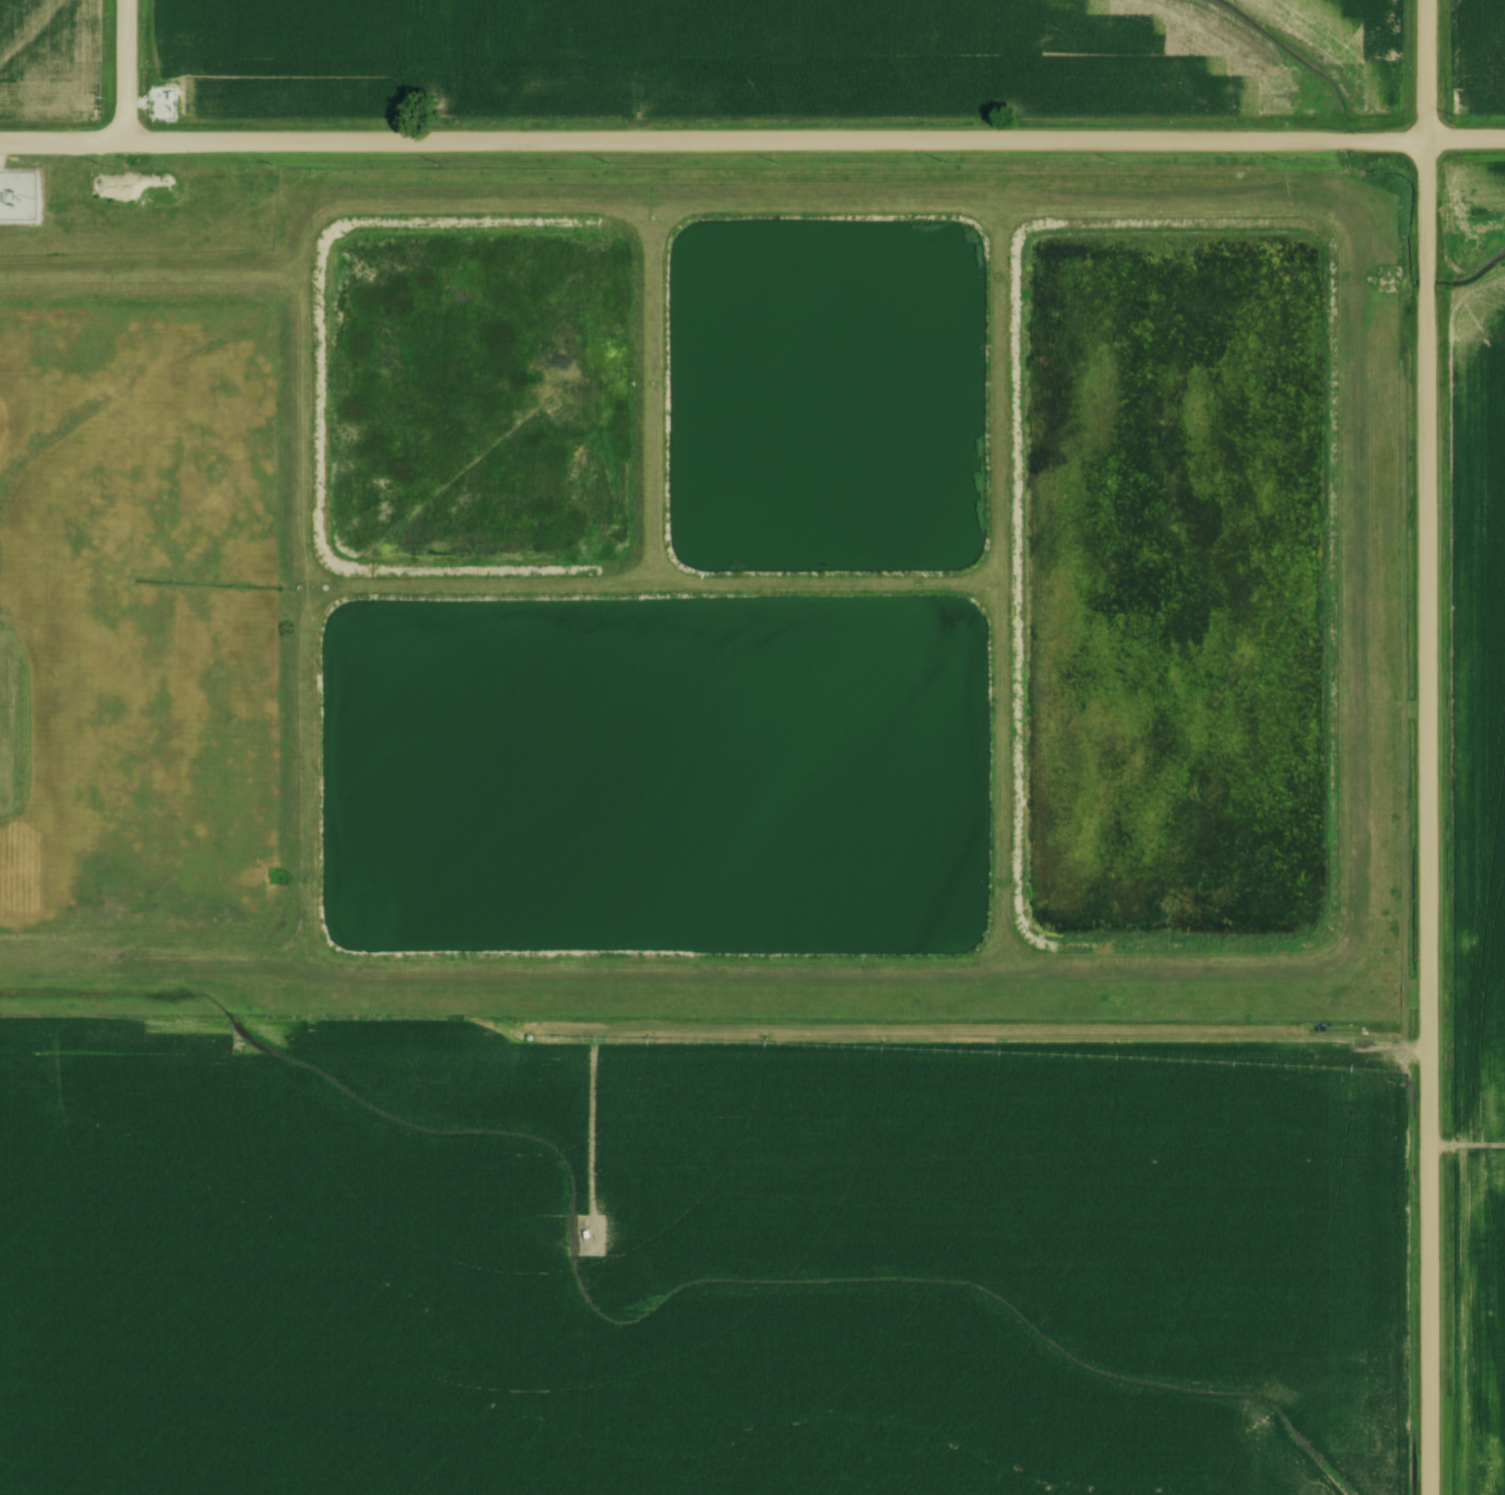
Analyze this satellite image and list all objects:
road: (120, 70)
building: (150, 104)
road: (60, 142)
road: (812, 146)
road: (1425, 747)

